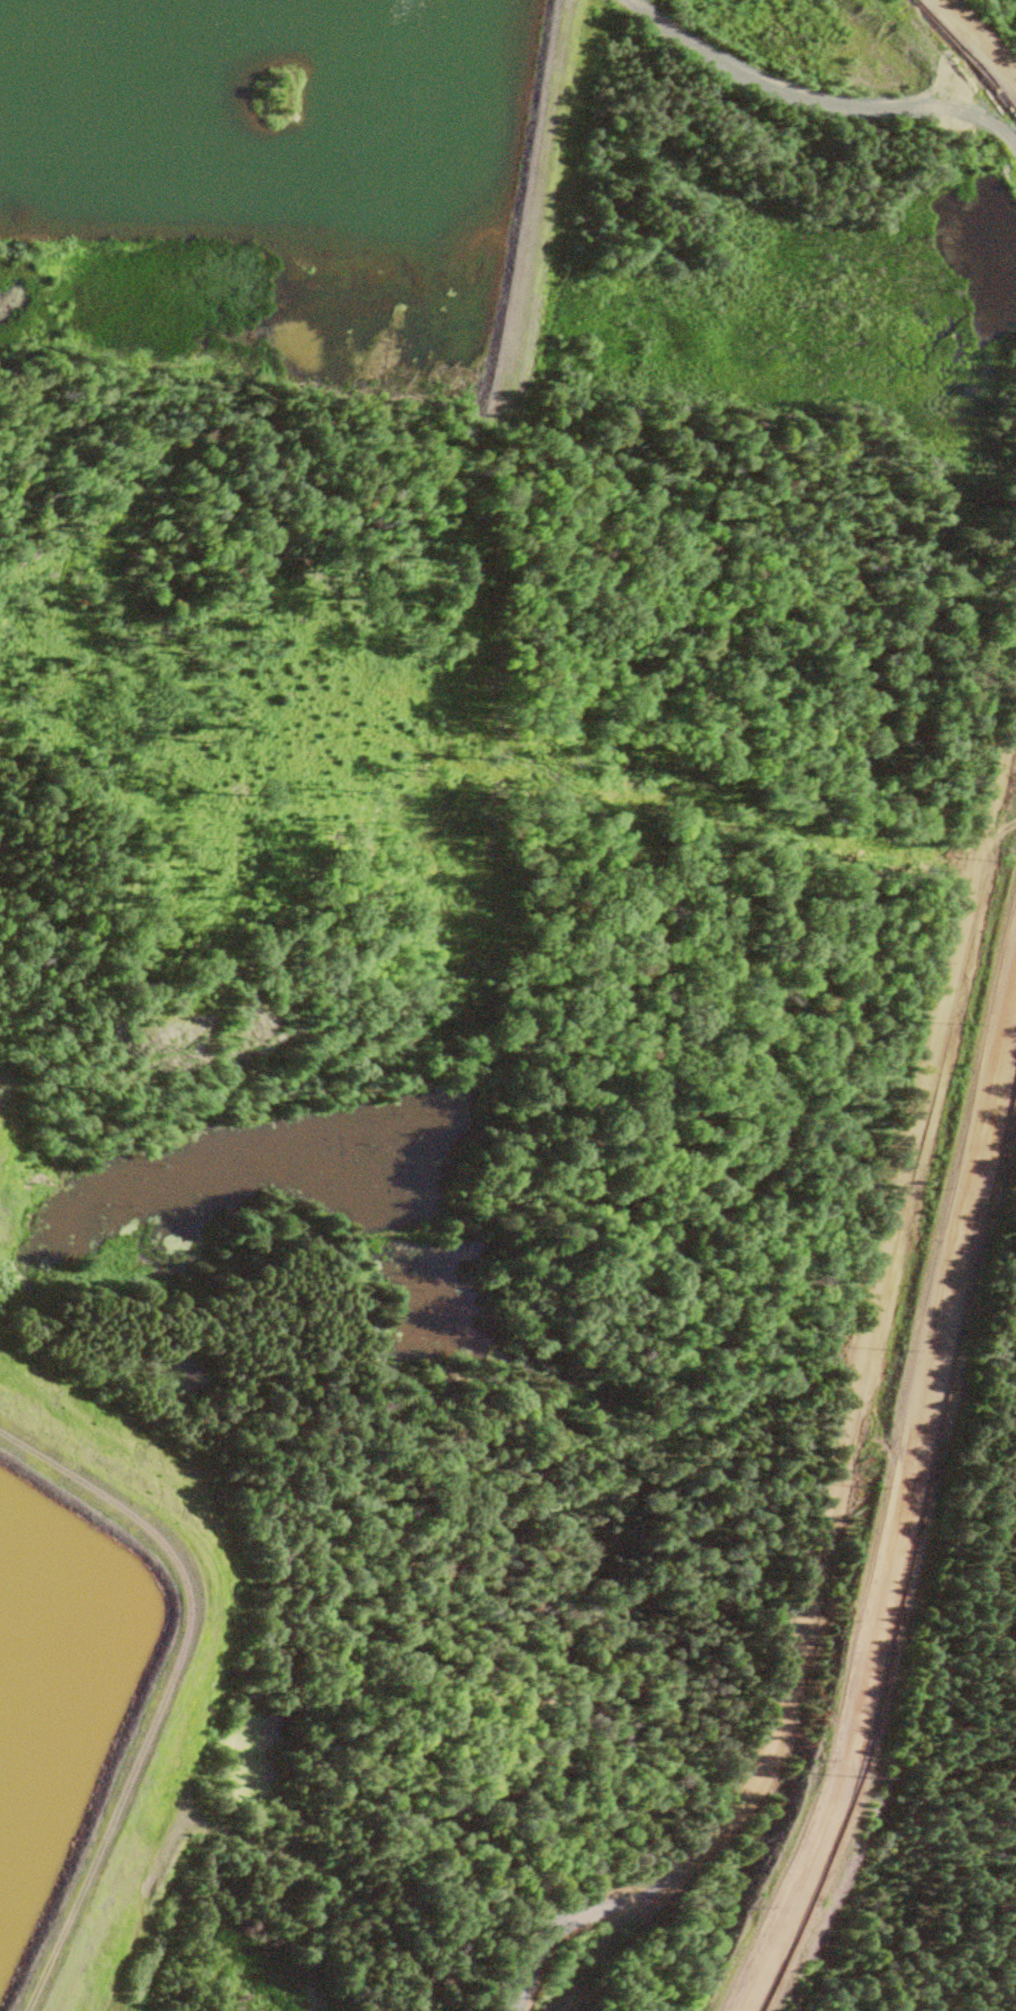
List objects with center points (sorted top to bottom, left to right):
road: (979, 39)
road: (882, 1453)
road: (686, 1844)
road: (830, 1851)

